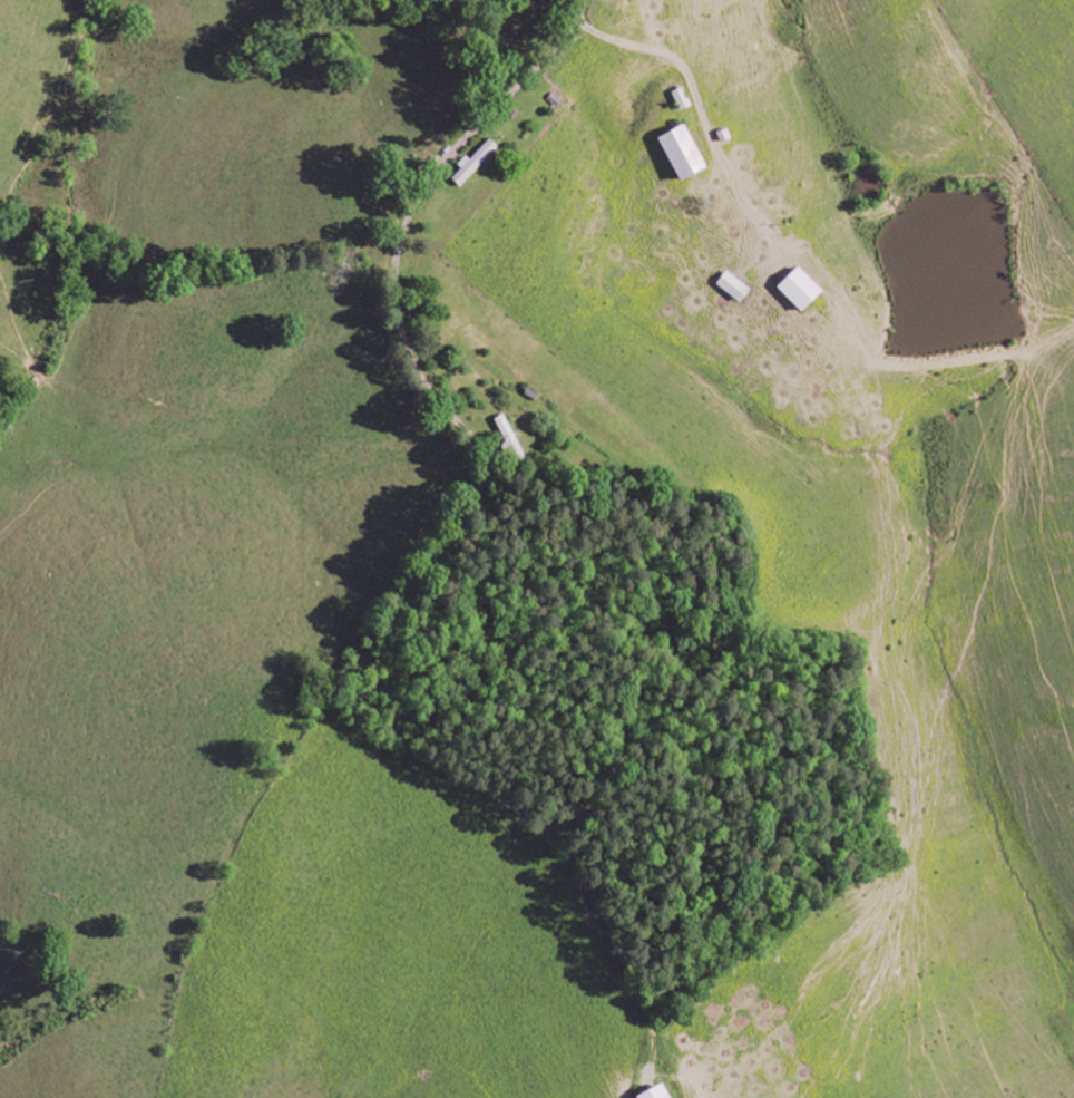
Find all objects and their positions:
road: (578, 10)
road: (676, 137)
building: (685, 153)
building: (477, 162)
road: (403, 236)
building: (735, 288)
building: (802, 289)
building: (658, 1094)

